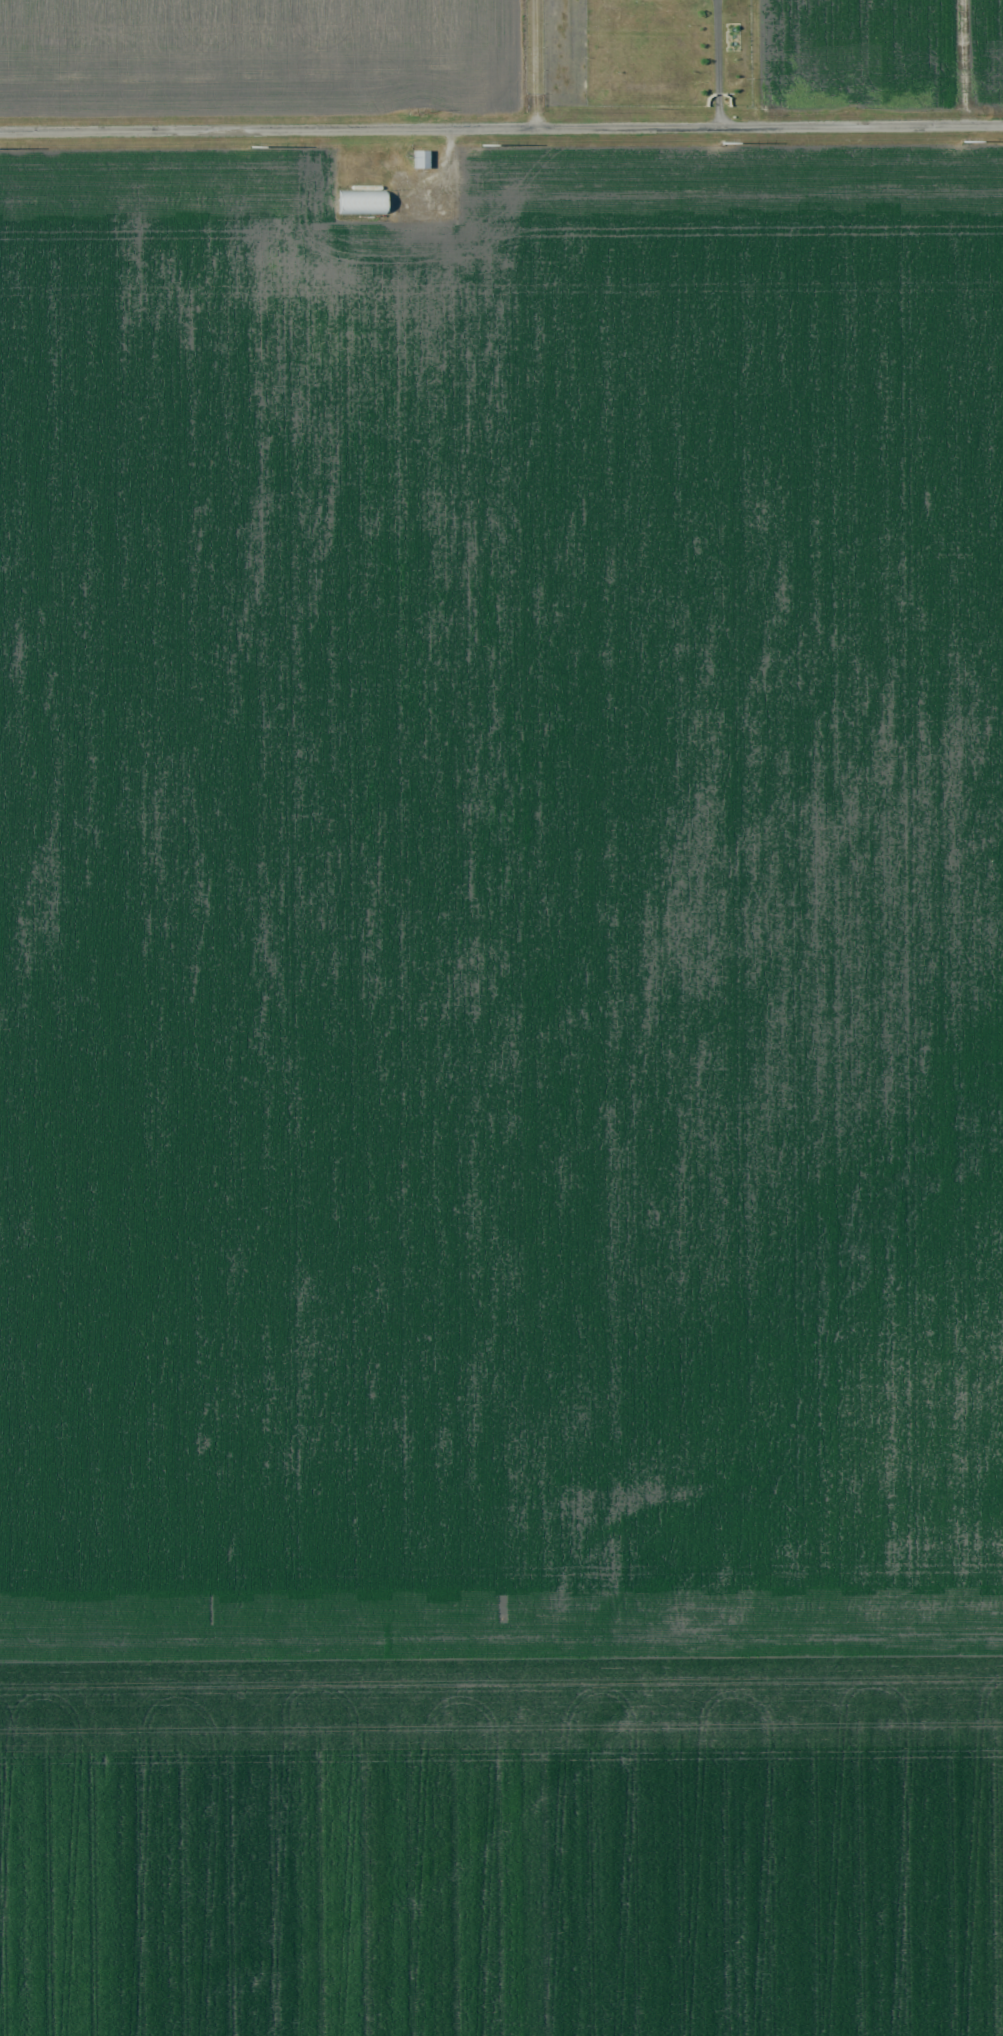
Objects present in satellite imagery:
road: (717, 63)
road: (501, 128)
power tower: (968, 141)
power tower: (485, 143)
power tower: (725, 143)
power tower: (253, 146)
building: (420, 159)

